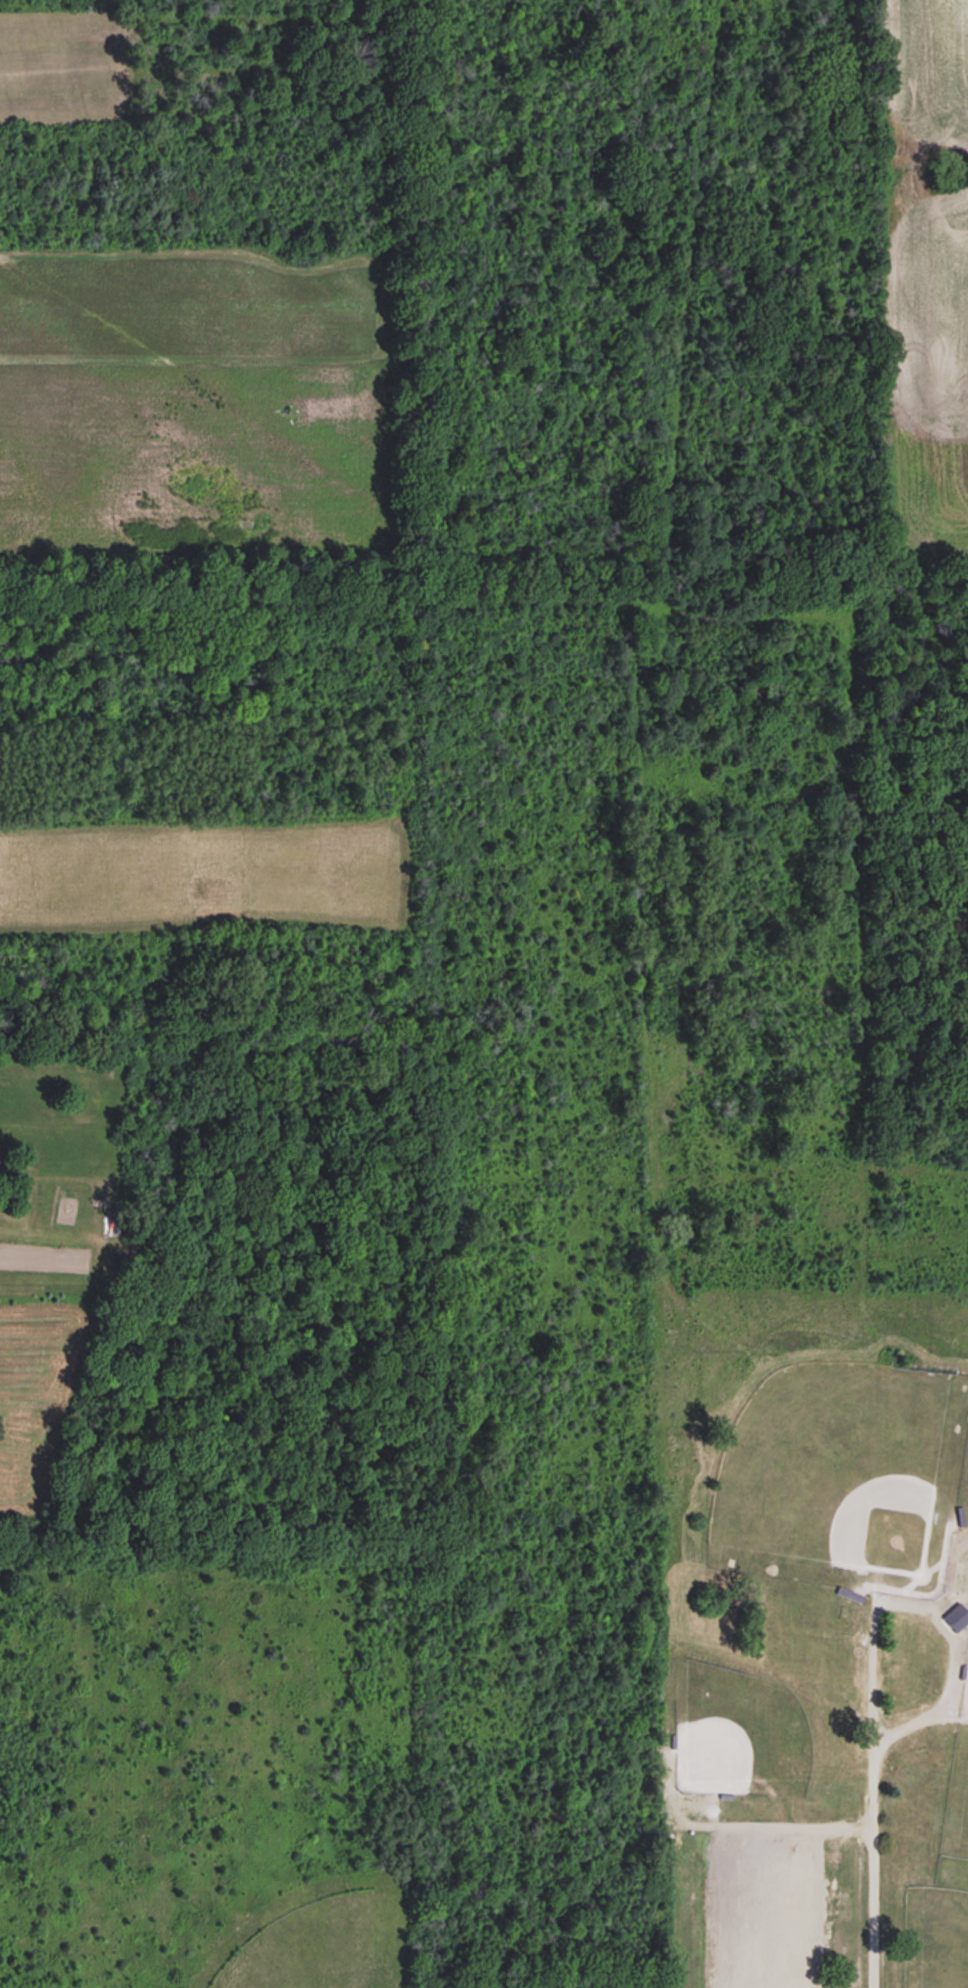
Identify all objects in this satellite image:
building: (956, 1619)
road: (870, 1794)

